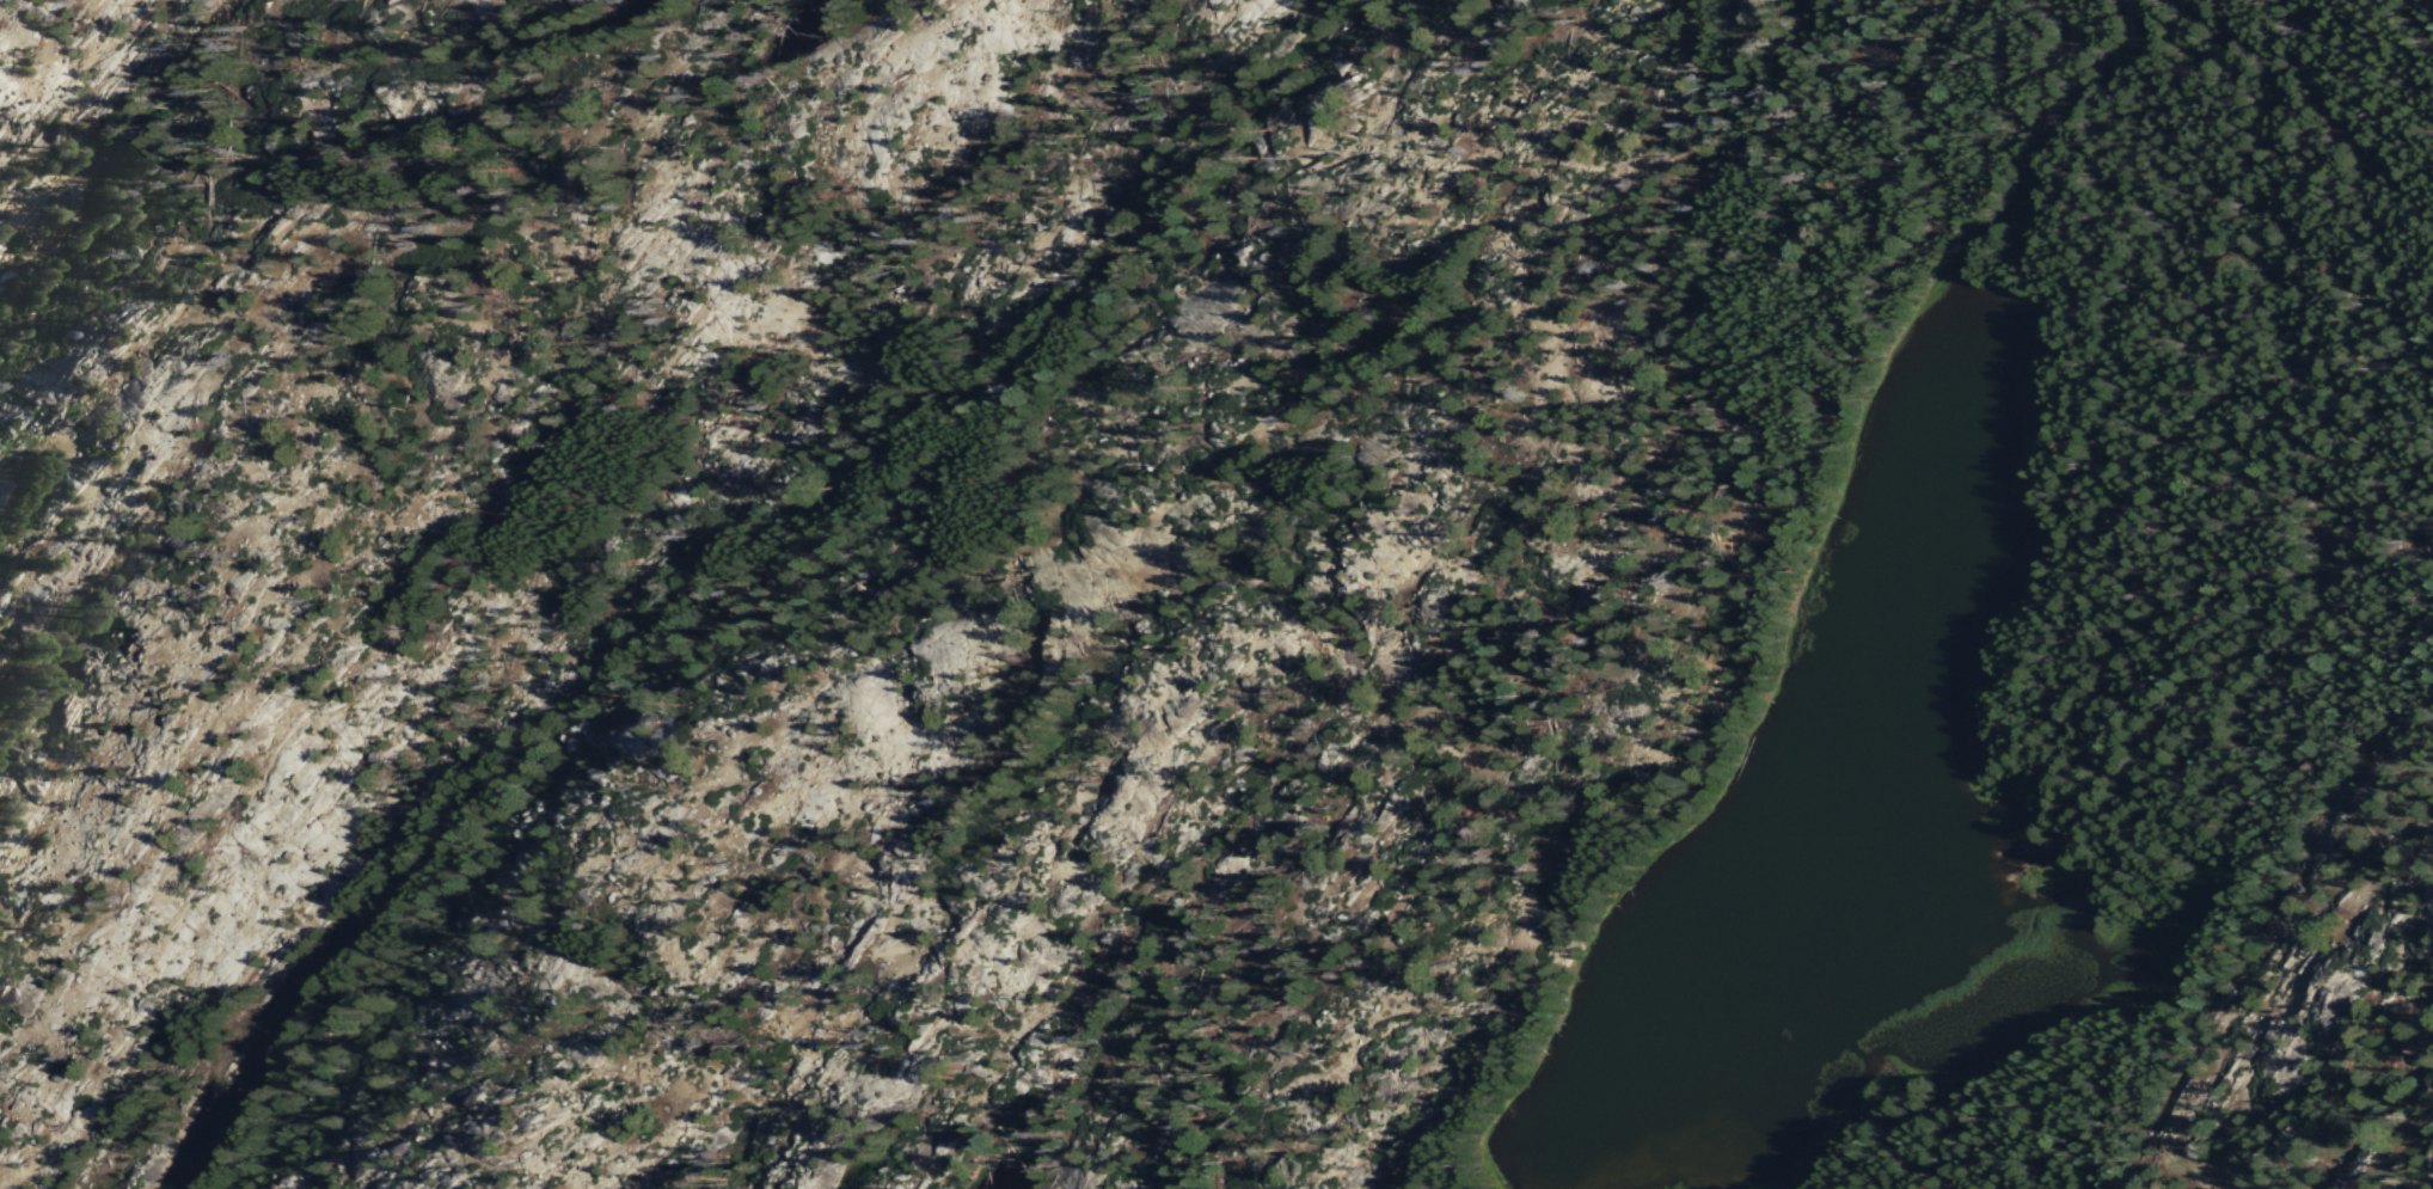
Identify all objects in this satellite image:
road: (2275, 233)
road: (2256, 866)
road: (1907, 1129)

